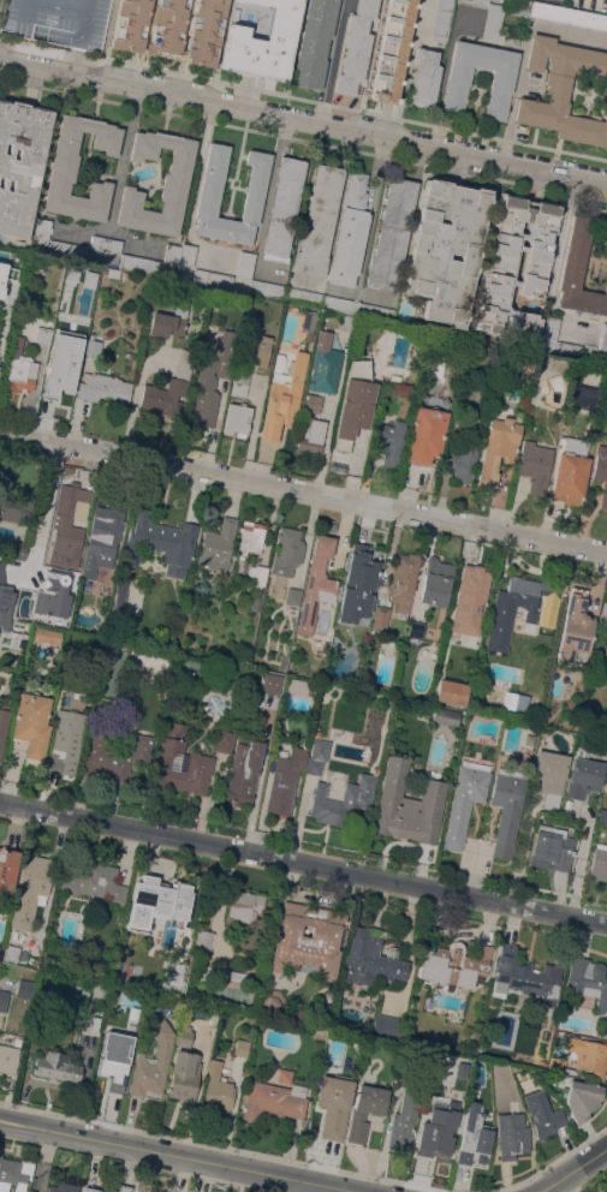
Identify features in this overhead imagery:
building: (475, 2)
building: (589, 4)
building: (569, 14)
building: (442, 19)
building: (56, 20)
parking lot: (58, 20)
building: (492, 25)
building: (171, 28)
building: (261, 37)
building: (314, 43)
building: (356, 47)
building: (392, 50)
road: (522, 53)
road: (327, 60)
road: (333, 60)
building: (424, 77)
building: (456, 89)
building: (561, 89)
road: (440, 93)
road: (303, 118)
road: (124, 161)
building: (20, 163)
building: (64, 168)
building: (174, 185)
building: (207, 204)
building: (282, 205)
building: (319, 220)
road: (368, 227)
building: (42, 230)
building: (350, 232)
building: (392, 234)
road: (108, 237)
building: (105, 244)
building: (446, 249)
building: (67, 250)
building: (171, 255)
building: (186, 255)
road: (567, 261)
building: (139, 264)
building: (245, 264)
building: (499, 264)
building: (578, 272)
building: (1, 275)
building: (213, 278)
building: (275, 290)
building: (304, 297)
building: (339, 304)
building: (376, 311)
building: (166, 323)
building: (346, 323)
building: (309, 324)
building: (42, 334)
building: (603, 339)
building: (563, 344)
building: (93, 347)
building: (254, 347)
building: (278, 362)
building: (524, 362)
building: (323, 364)
building: (19, 369)
building: (61, 369)
building: (239, 381)
building: (102, 387)
building: (169, 387)
building: (207, 389)
building: (284, 397)
building: (313, 403)
building: (355, 403)
building: (460, 404)
building: (456, 417)
building: (237, 419)
building: (311, 435)
building: (426, 435)
building: (391, 442)
road: (323, 447)
building: (498, 447)
building: (463, 459)
building: (535, 465)
building: (601, 470)
building: (571, 472)
road: (303, 494)
building: (13, 505)
road: (42, 508)
building: (67, 525)
building: (331, 528)
building: (102, 540)
building: (250, 540)
building: (160, 543)
building: (218, 544)
building: (17, 550)
building: (287, 552)
building: (365, 566)
building: (256, 574)
building: (435, 582)
building: (316, 583)
building: (403, 583)
building: (53, 595)
building: (292, 596)
building: (118, 598)
building: (5, 600)
building: (469, 601)
building: (255, 603)
building: (501, 616)
building: (603, 616)
building: (380, 618)
building: (344, 620)
building: (575, 627)
building: (416, 628)
building: (114, 630)
building: (12, 631)
building: (184, 631)
building: (47, 634)
building: (335, 646)
building: (320, 652)
building: (270, 683)
building: (294, 686)
building: (451, 692)
building: (512, 701)
building: (442, 716)
building: (2, 726)
building: (31, 726)
building: (172, 738)
building: (67, 739)
building: (222, 741)
building: (114, 755)
building: (316, 756)
building: (605, 770)
building: (243, 773)
building: (185, 774)
building: (549, 775)
building: (284, 777)
building: (584, 777)
building: (464, 799)
building: (343, 800)
building: (407, 804)
building: (507, 807)
building: (602, 815)
building: (551, 848)
building: (599, 862)
road: (303, 863)
building: (7, 868)
building: (94, 882)
building: (30, 889)
building: (156, 902)
building: (245, 917)
building: (308, 938)
building: (203, 943)
building: (1, 952)
building: (12, 953)
building: (370, 958)
building: (453, 965)
building: (174, 976)
building: (526, 977)
building: (588, 979)
building: (25, 989)
building: (99, 990)
building: (4, 1000)
building: (274, 1002)
building: (85, 1021)
building: (388, 1027)
building: (606, 1029)
building: (183, 1036)
building: (87, 1038)
building: (240, 1048)
building: (8, 1056)
building: (103, 1056)
building: (589, 1056)
building: (153, 1065)
building: (555, 1065)
building: (56, 1066)
building: (285, 1075)
building: (184, 1077)
building: (216, 1090)
building: (298, 1090)
building: (581, 1098)
building: (270, 1102)
building: (333, 1104)
building: (364, 1110)
building: (457, 1114)
building: (543, 1114)
building: (405, 1115)
building: (511, 1136)
building: (432, 1137)
building: (474, 1138)
road: (188, 1154)
building: (0, 1156)
road: (44, 1158)
road: (575, 1173)
building: (14, 1174)
building: (64, 1187)
building: (124, 1187)
building: (94, 1188)
building: (114, 1191)
building: (135, 1191)
building: (154, 1191)
building: (160, 1191)

